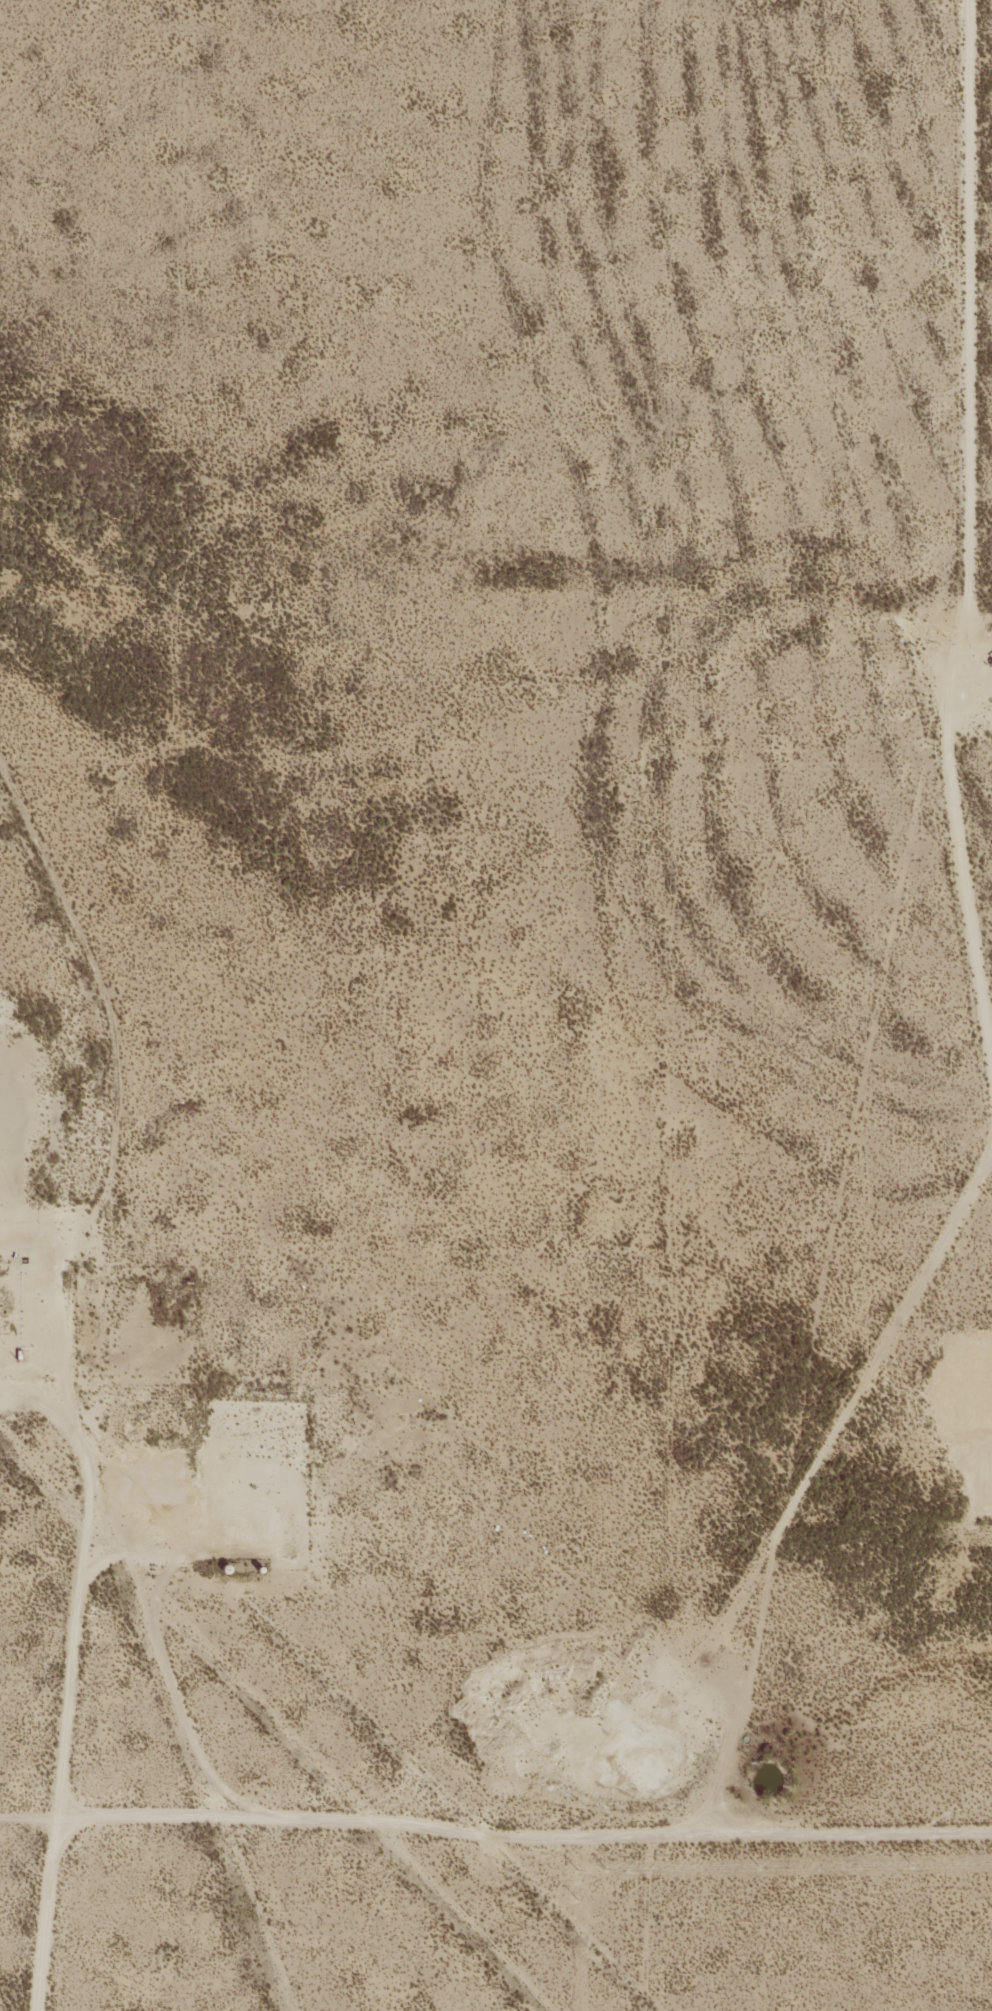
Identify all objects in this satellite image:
road: (426, 1808)
road: (650, 1912)

